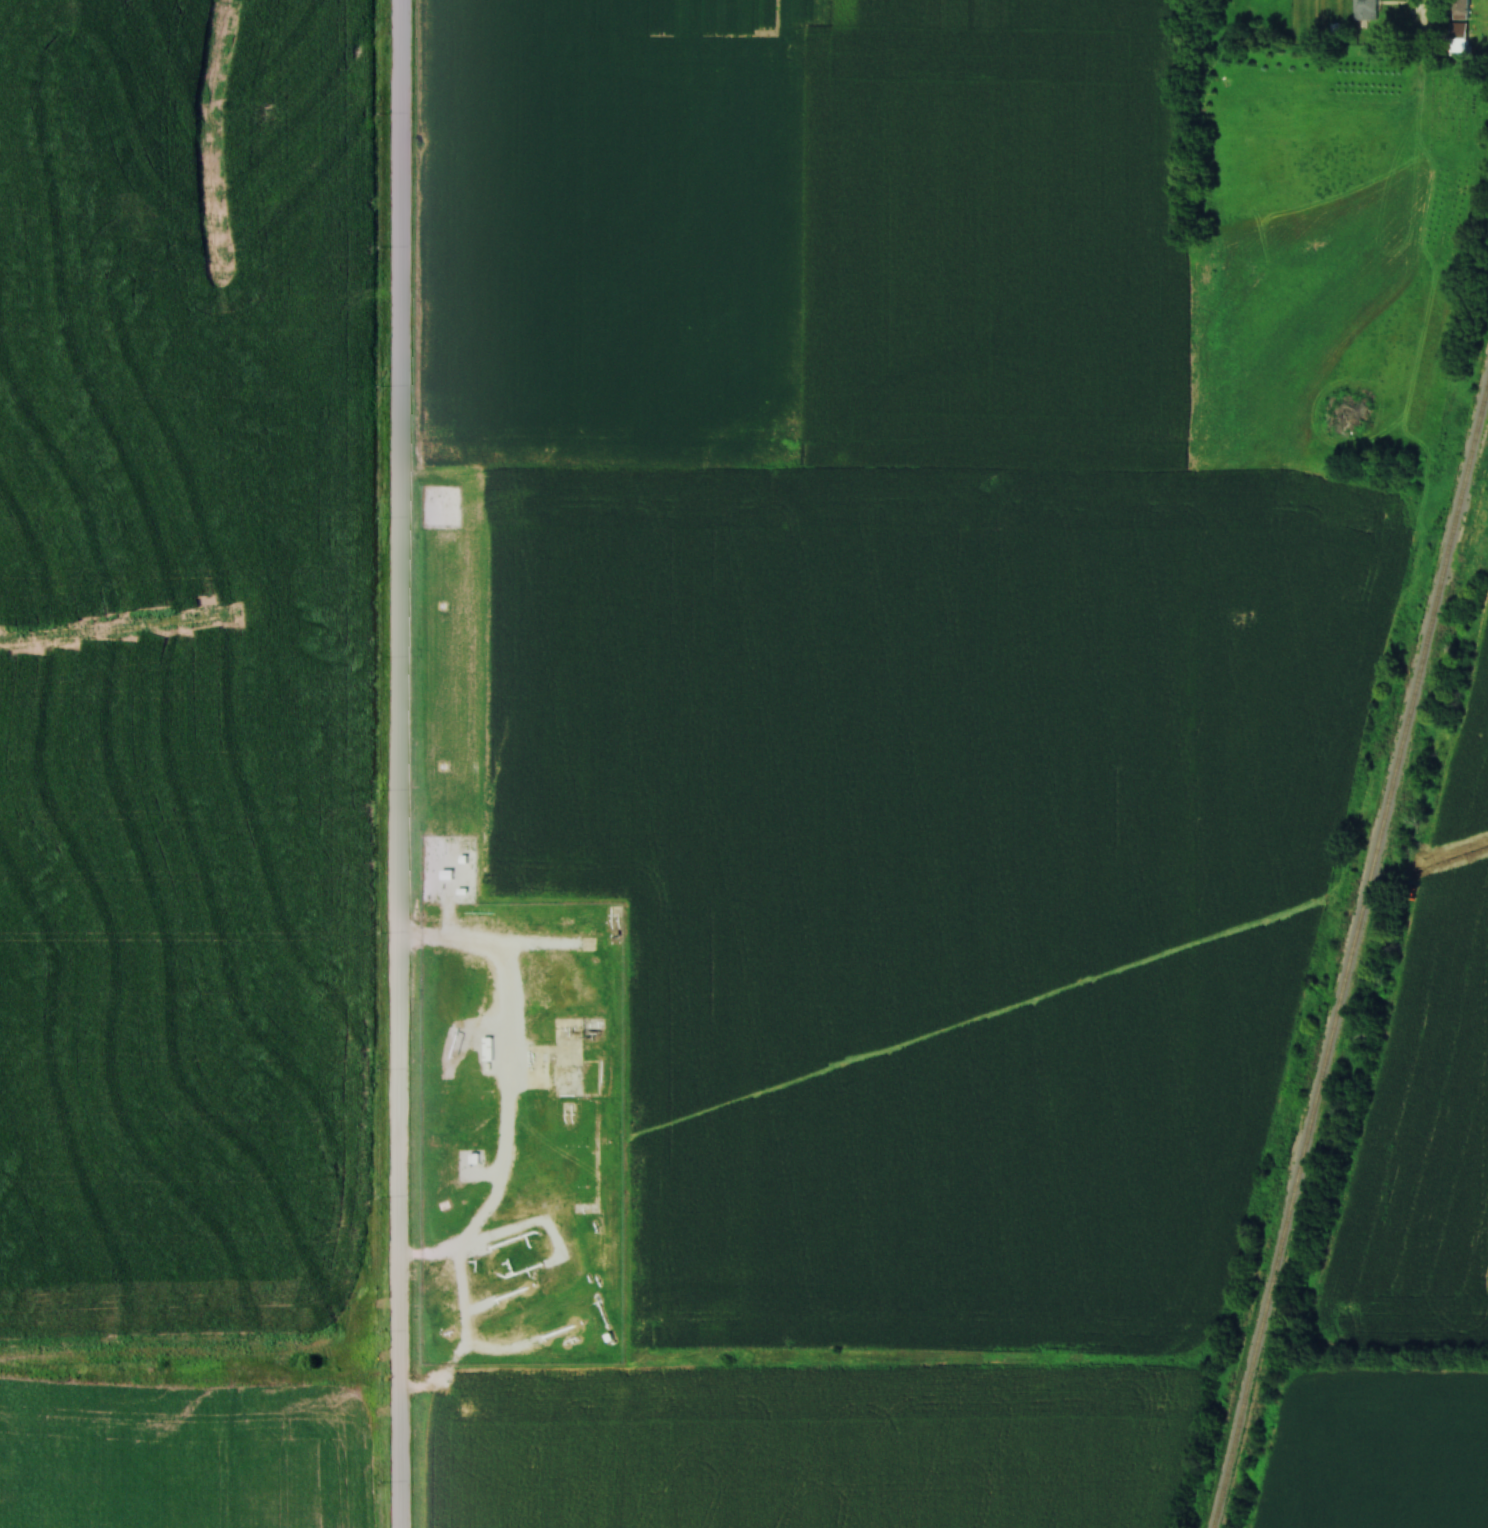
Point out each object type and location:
building: (1463, 7)
building: (1367, 10)
road: (1428, 14)
building: (1459, 39)
road: (401, 764)
railway: (1356, 954)
road: (510, 1082)

